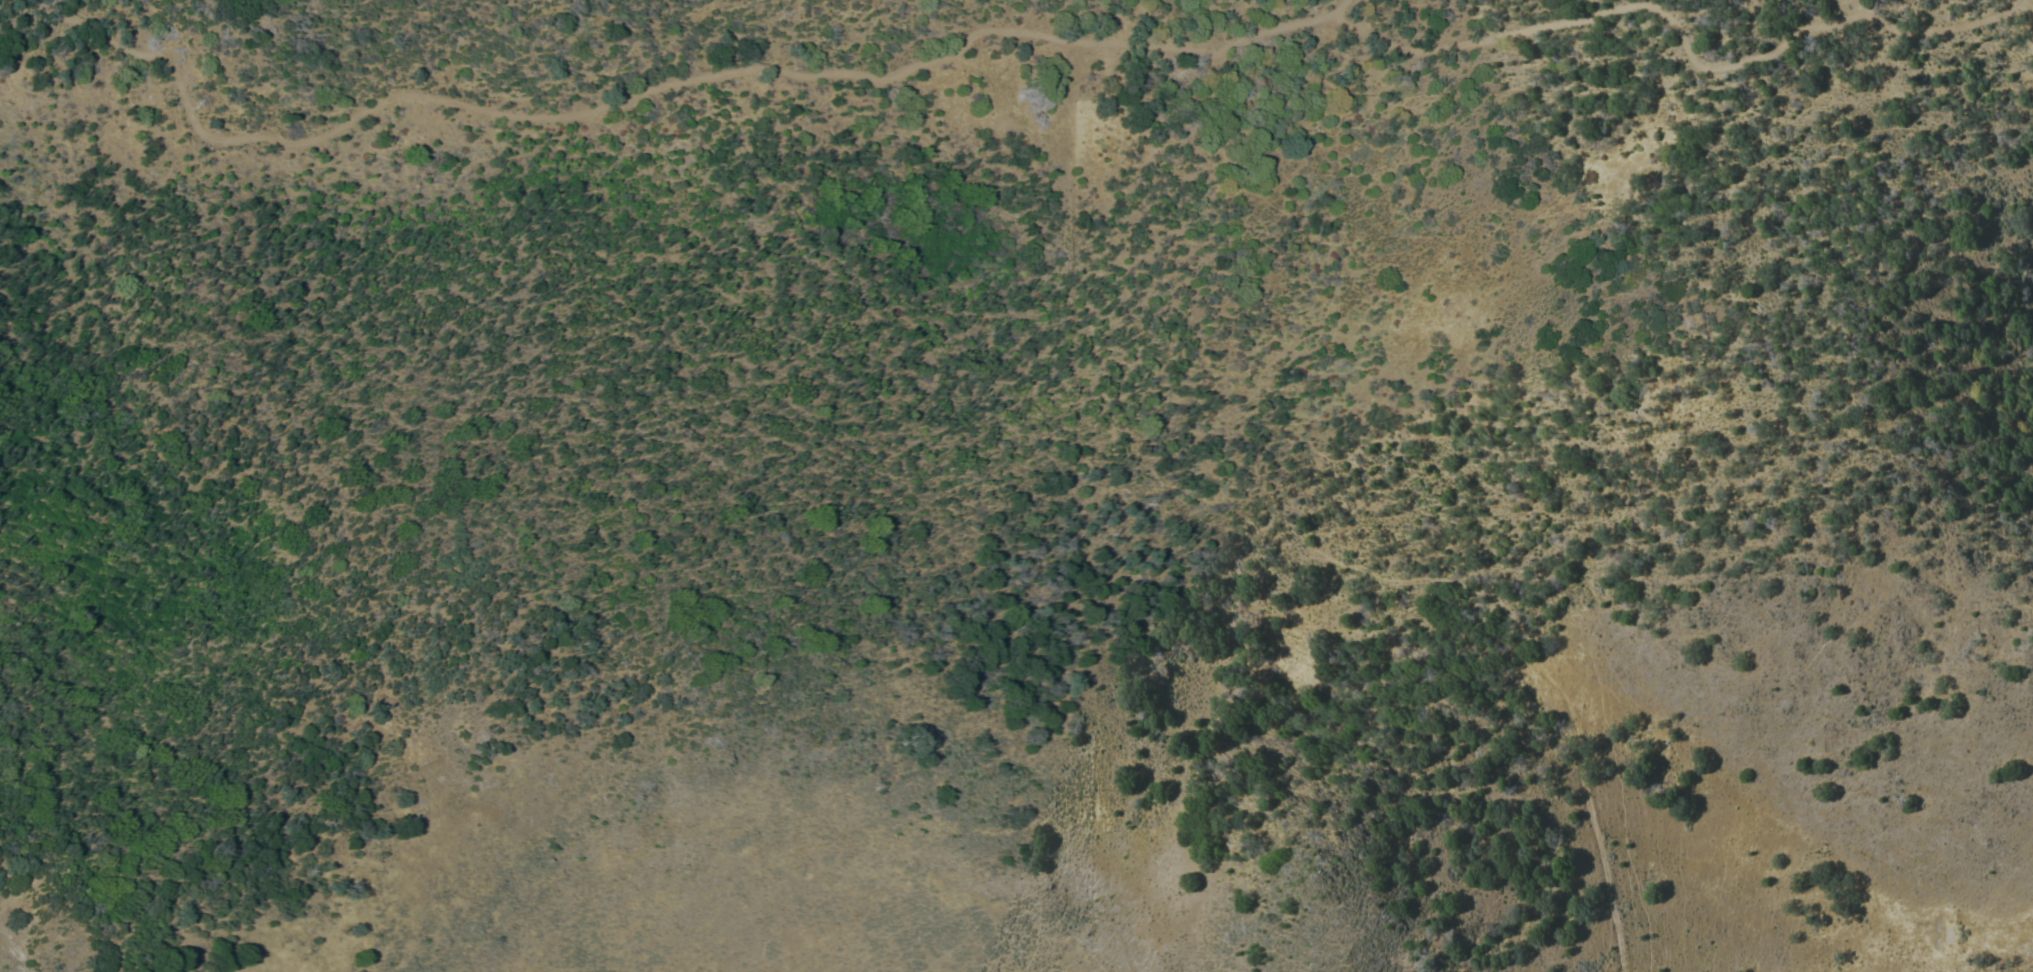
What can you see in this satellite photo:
road: (1337, 6)
road: (1675, 40)
road: (655, 88)

